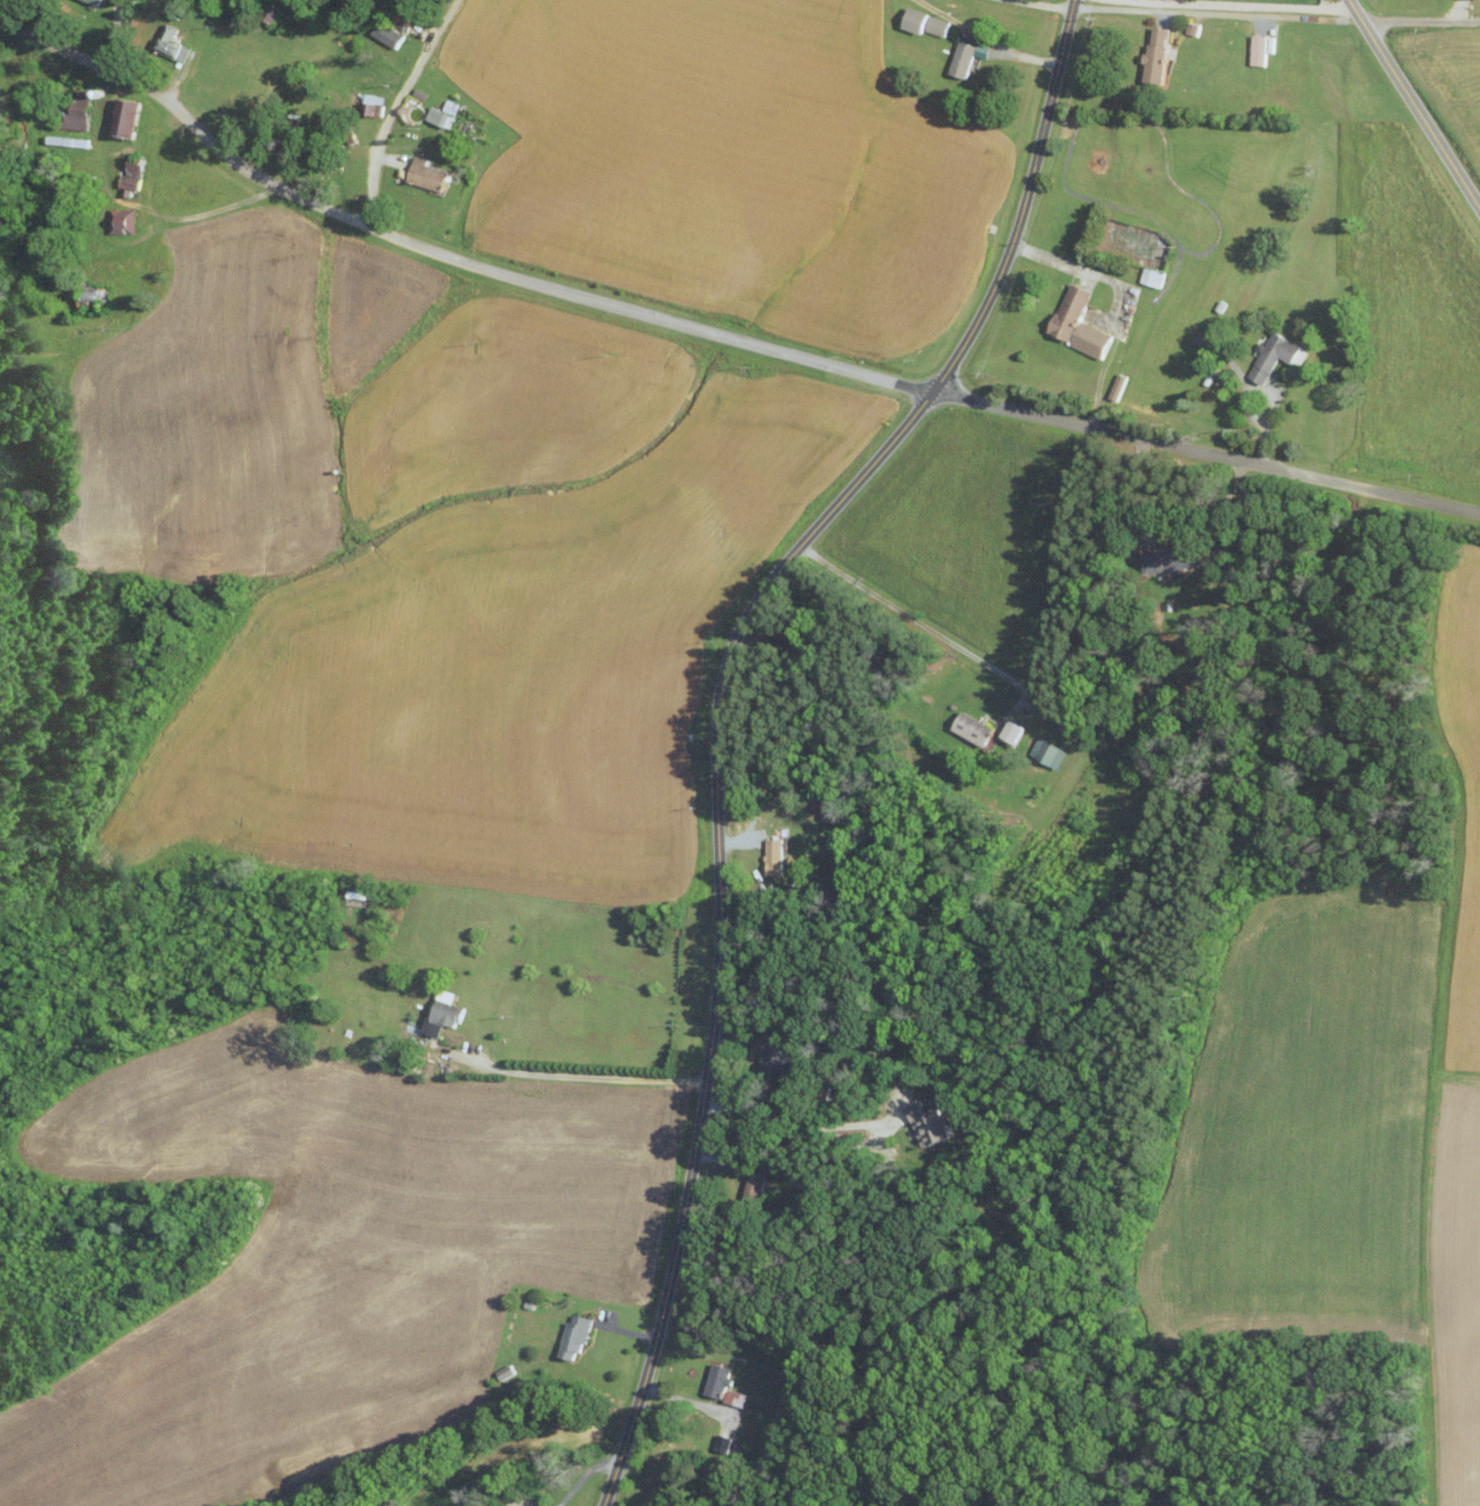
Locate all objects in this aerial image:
road: (1070, 0)
road: (1460, 12)
road: (1216, 13)
building: (921, 22)
road: (1420, 22)
building: (388, 34)
road: (115, 37)
building: (174, 44)
building: (1152, 55)
building: (962, 57)
road: (1413, 104)
road: (394, 106)
building: (444, 113)
building: (80, 117)
building: (130, 117)
building: (135, 173)
building: (429, 174)
road: (208, 211)
building: (124, 221)
road: (1076, 272)
building: (1150, 276)
building: (1074, 323)
road: (713, 335)
building: (1272, 356)
road: (1269, 392)
road: (1169, 531)
building: (1162, 560)
road: (918, 623)
road: (717, 709)
building: (968, 727)
building: (1008, 730)
building: (1046, 752)
building: (771, 855)
building: (440, 1013)
building: (769, 1063)
road: (583, 1076)
building: (929, 1124)
road: (823, 1128)
building: (754, 1184)
building: (571, 1337)
building: (721, 1386)
road: (688, 1402)
road: (583, 1476)
road: (528, 1505)

